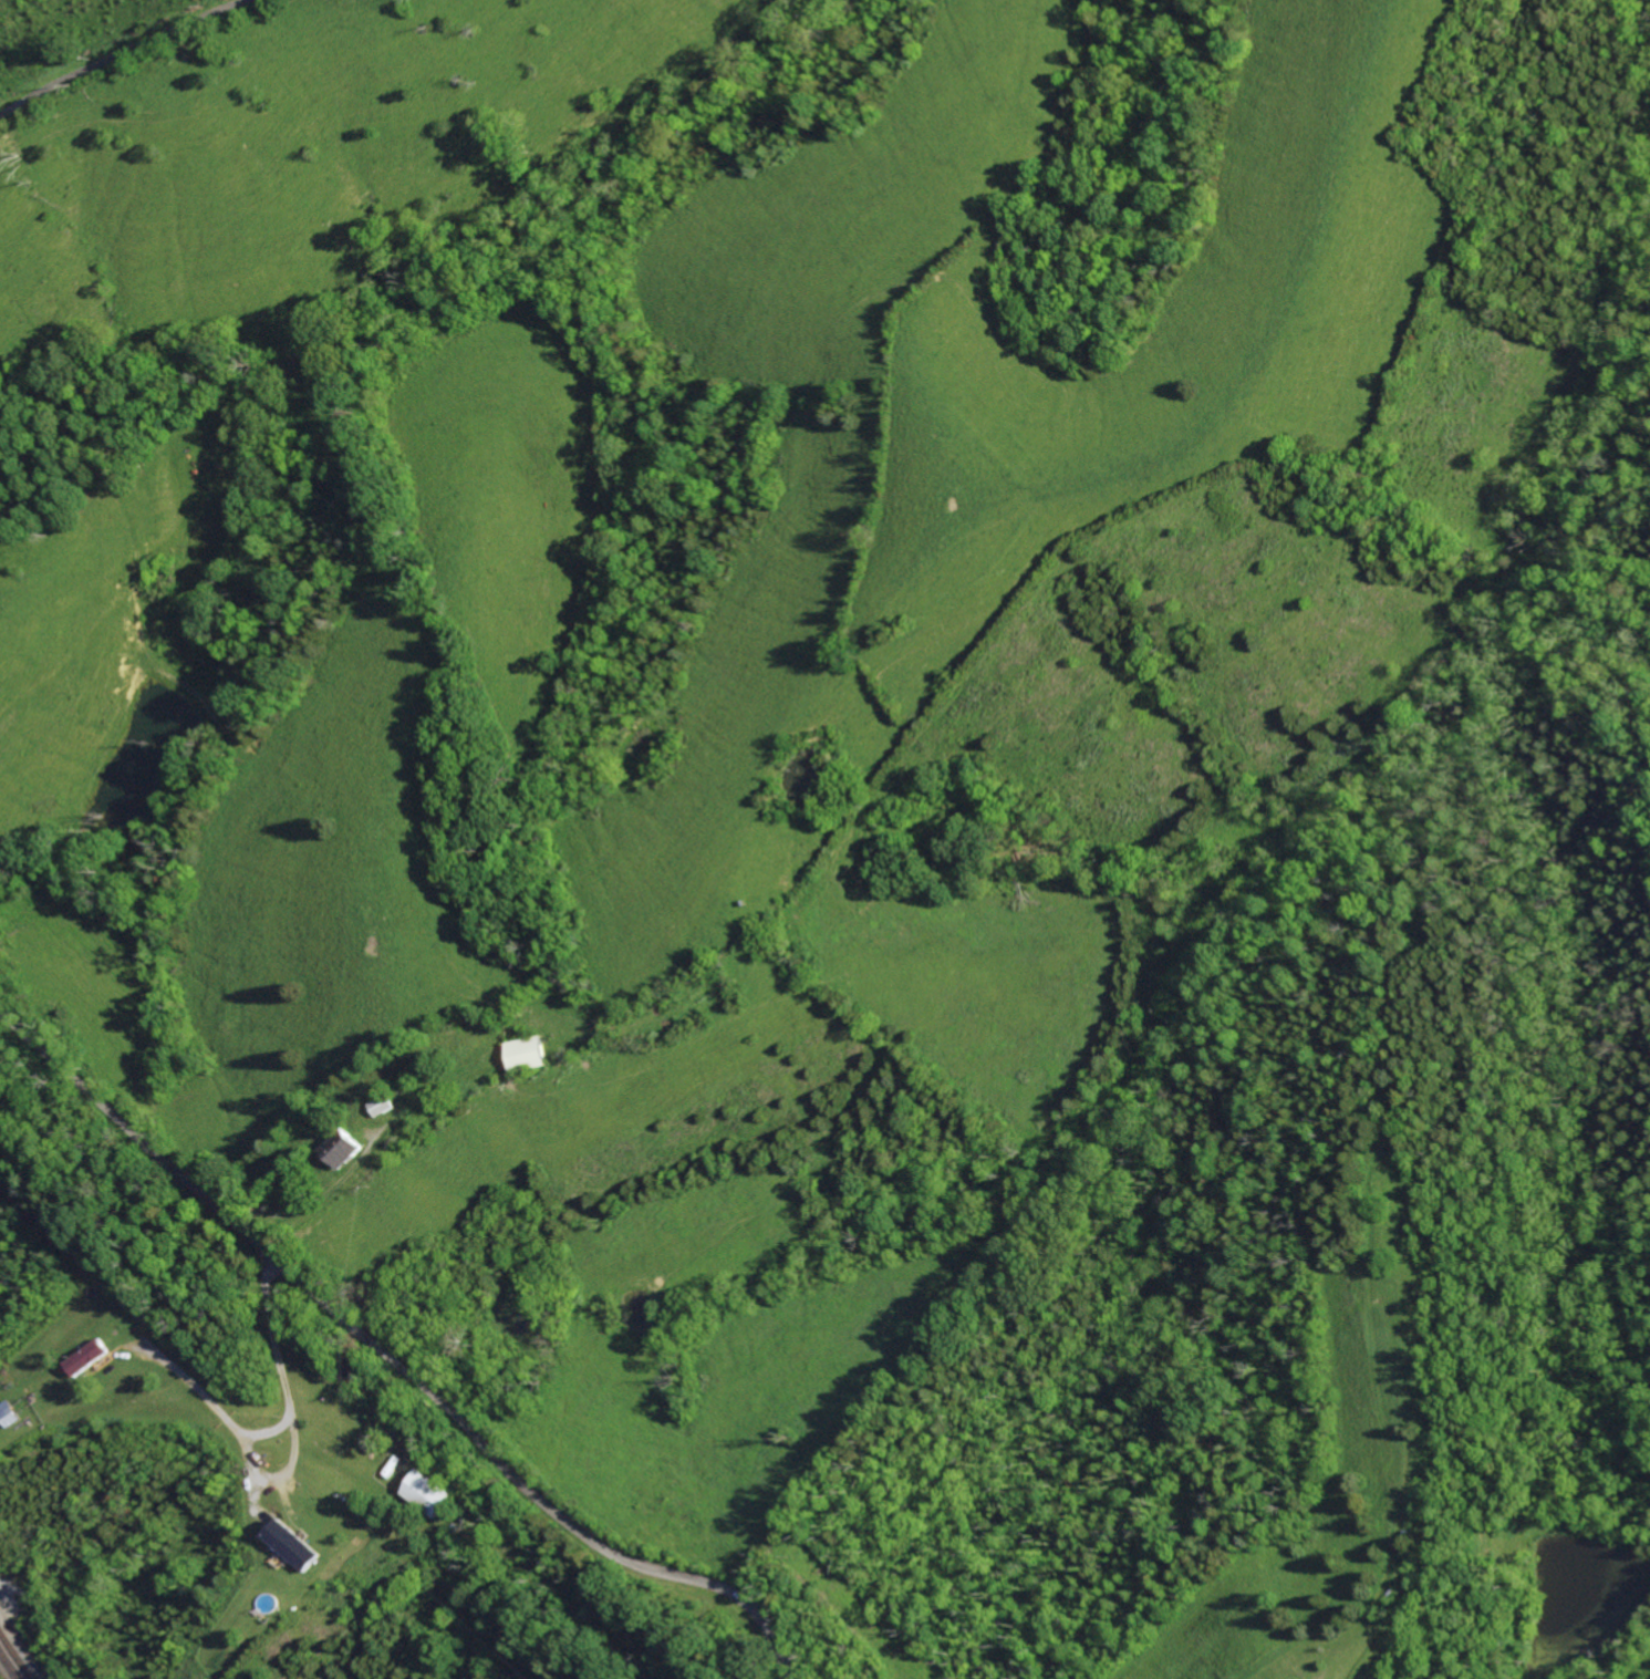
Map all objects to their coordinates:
road: (115, 51)
building: (385, 1105)
building: (343, 1148)
building: (91, 1358)
road: (394, 1360)
building: (12, 1414)
road: (274, 1430)
road: (290, 1466)
building: (433, 1493)
road: (383, 1506)
building: (294, 1545)
road: (232, 1626)
road: (373, 1645)
road: (312, 1646)
railway: (19, 1650)
railway: (12, 1659)

